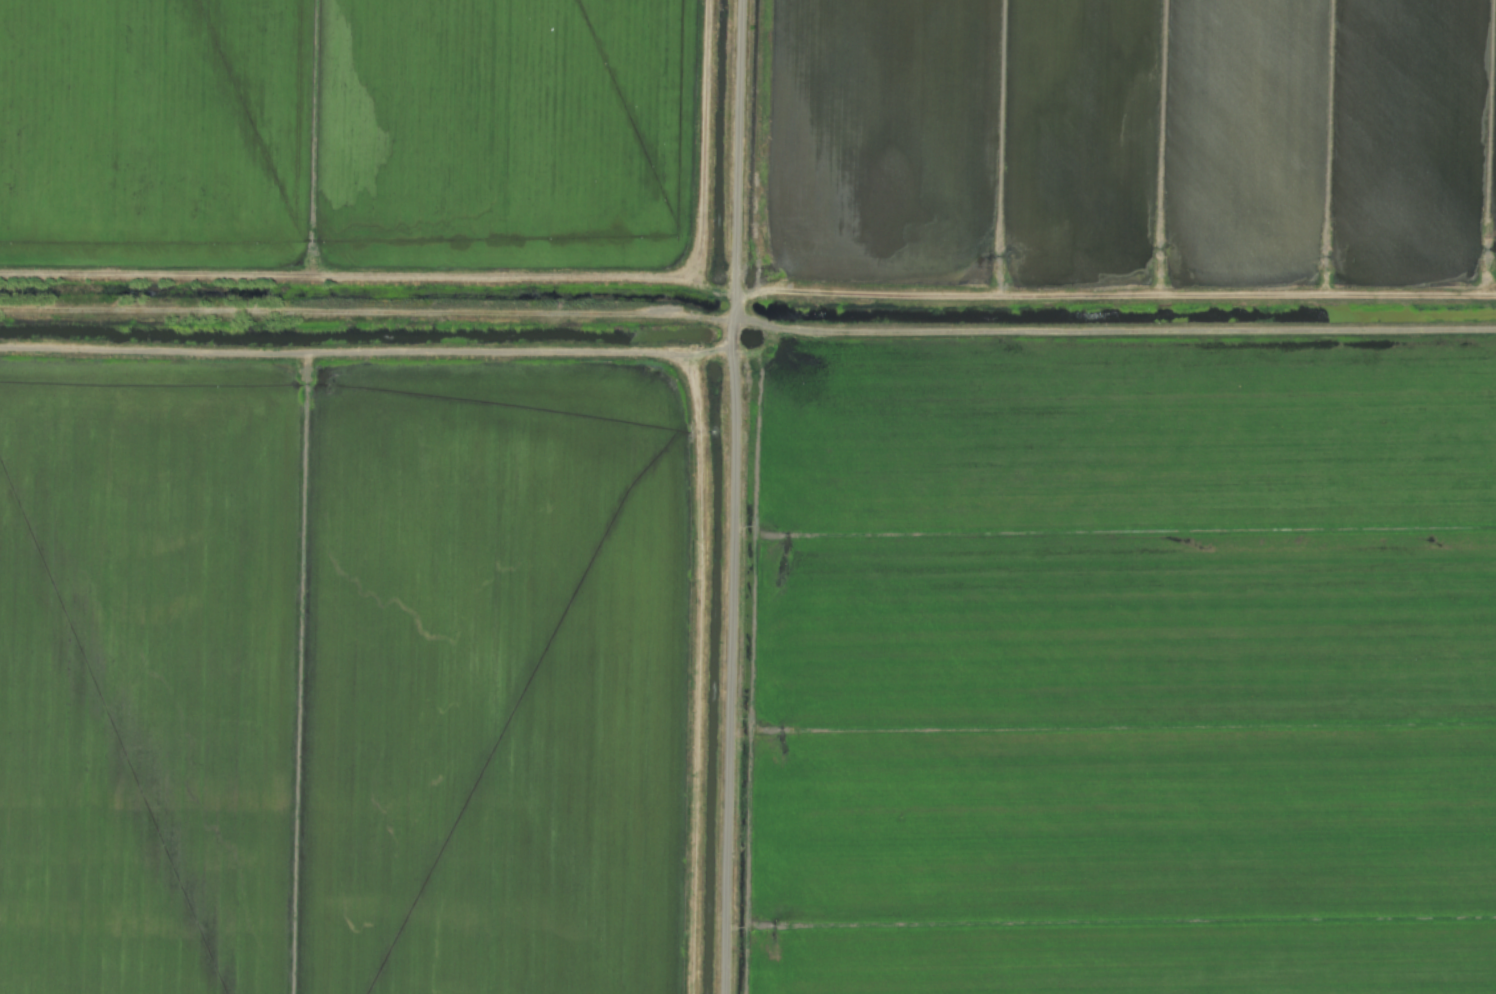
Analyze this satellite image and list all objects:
road: (736, 174)
road: (365, 351)
crop: (748, 497)
road: (730, 670)

